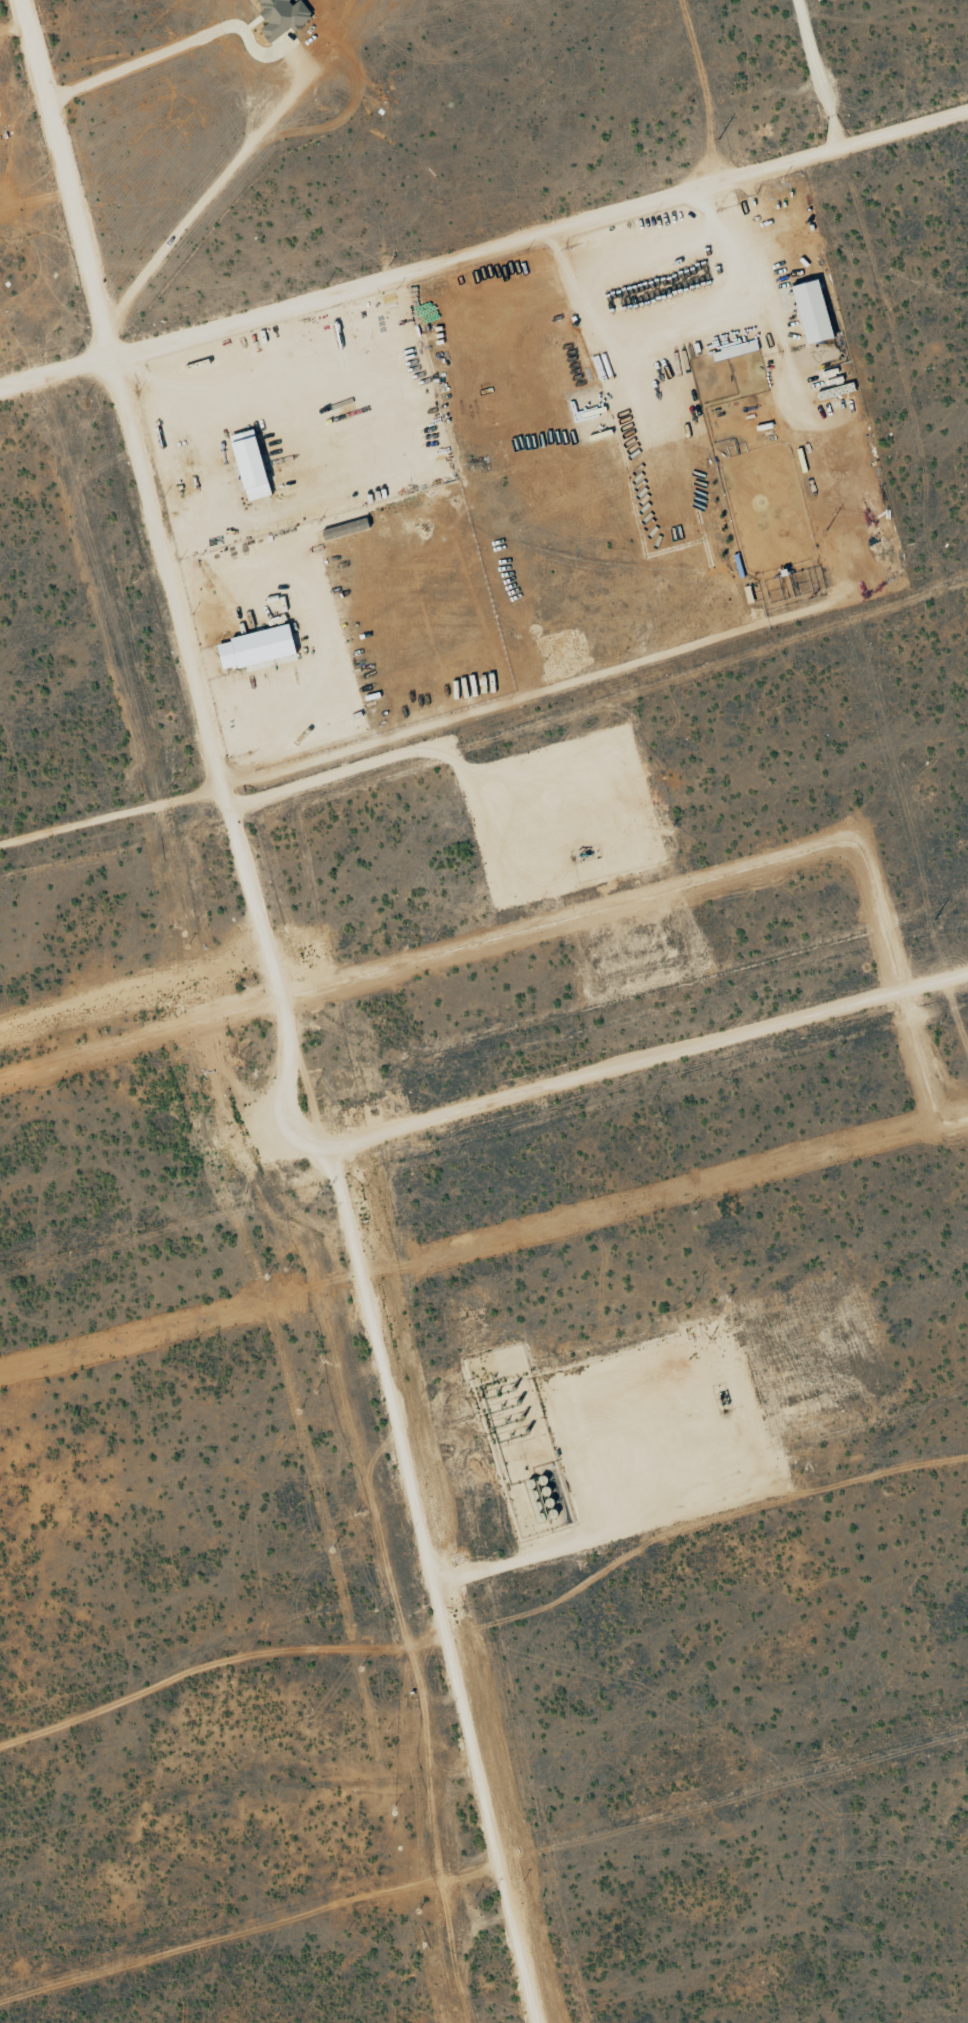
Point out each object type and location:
building: (279, 17)
road: (29, 31)
road: (818, 77)
power tower: (717, 139)
road: (203, 197)
road: (75, 216)
road: (484, 260)
building: (808, 311)
building: (246, 466)
power tower: (825, 530)
building: (252, 649)
road: (212, 731)
power tower: (933, 921)
road: (494, 1893)

